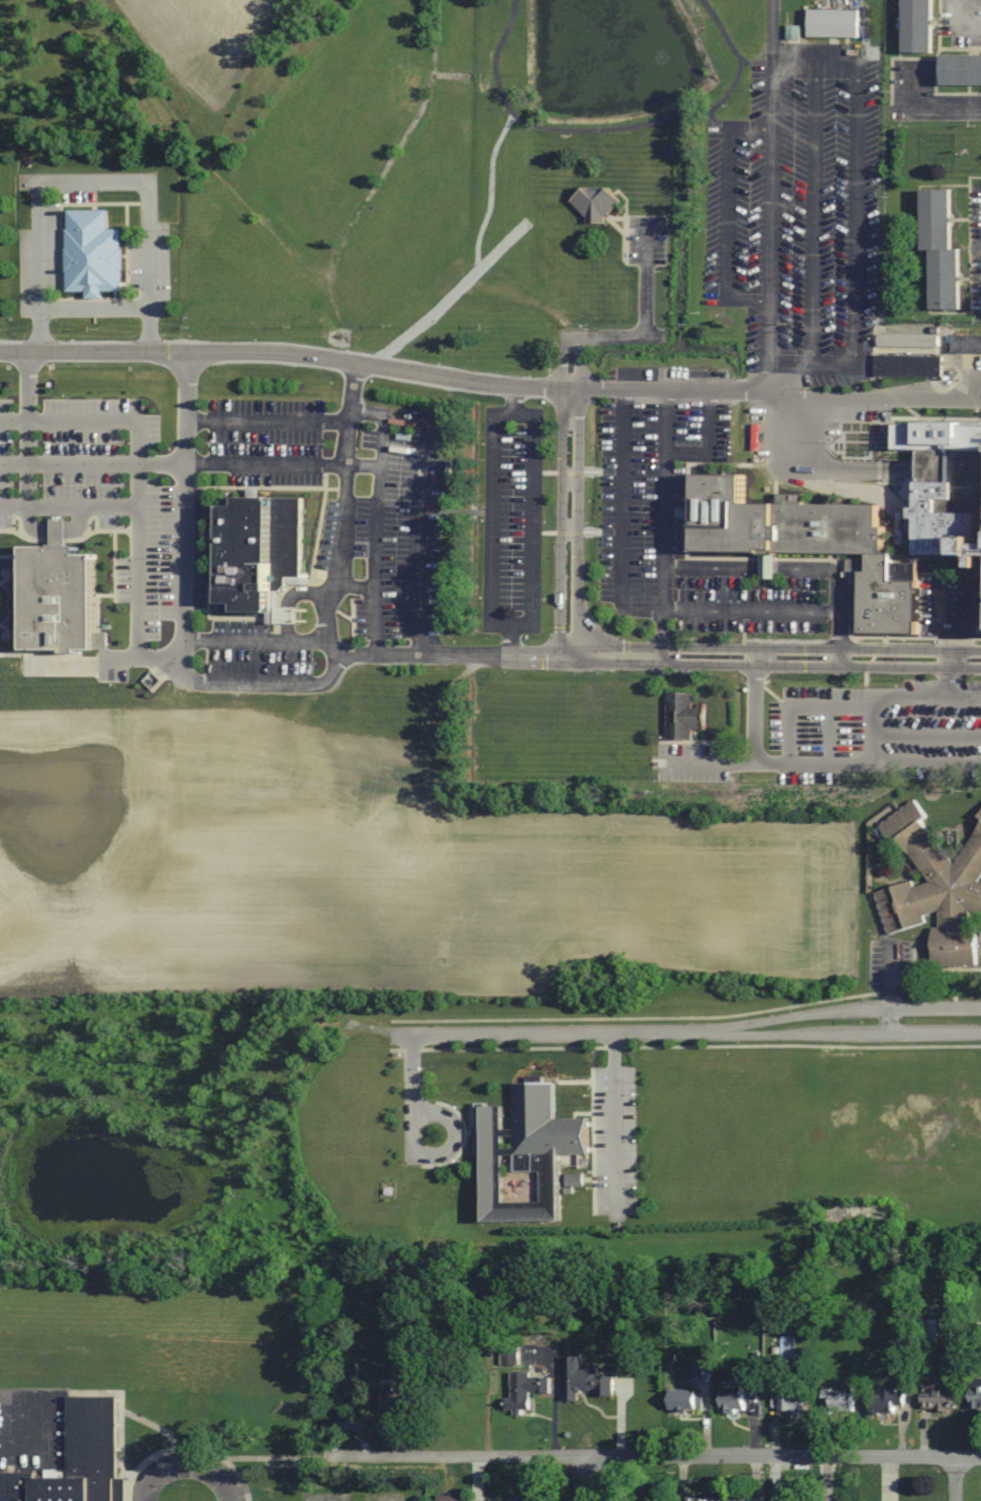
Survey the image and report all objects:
building: (835, 23)
building: (921, 26)
road: (723, 30)
road: (758, 60)
building: (963, 70)
road: (916, 86)
road: (950, 107)
road: (580, 130)
road: (87, 180)
road: (771, 195)
building: (597, 204)
building: (944, 250)
building: (94, 253)
road: (95, 306)
building: (907, 340)
building: (967, 343)
road: (286, 352)
building: (909, 365)
road: (26, 386)
road: (769, 391)
road: (110, 421)
road: (266, 422)
road: (569, 422)
road: (707, 441)
road: (25, 463)
road: (68, 463)
road: (160, 463)
road: (264, 465)
road: (362, 467)
road: (183, 496)
road: (342, 504)
road: (68, 505)
road: (376, 517)
road: (620, 518)
road: (530, 519)
road: (666, 521)
building: (861, 532)
road: (419, 535)
building: (264, 556)
road: (353, 584)
road: (137, 600)
road: (773, 610)
road: (975, 616)
road: (938, 624)
road: (253, 643)
road: (337, 649)
road: (482, 653)
road: (181, 655)
road: (798, 656)
road: (267, 684)
road: (950, 691)
road: (883, 697)
road: (802, 707)
road: (755, 711)
building: (684, 715)
road: (828, 736)
road: (868, 764)
building: (934, 888)
road: (921, 1018)
road: (633, 1024)
building: (527, 1154)
building: (931, 1332)
building: (586, 1378)
building: (527, 1389)
building: (976, 1392)
building: (400, 1398)
building: (739, 1398)
building: (686, 1399)
building: (839, 1399)
building: (940, 1399)
building: (793, 1400)
building: (888, 1400)
building: (363, 1404)
road: (671, 1455)
building: (77, 1460)
road: (194, 1472)
road: (578, 1479)
road: (956, 1479)
road: (147, 1489)
building: (461, 1498)
building: (520, 1498)
building: (698, 1498)
building: (738, 1498)
building: (826, 1498)
building: (796, 1499)

